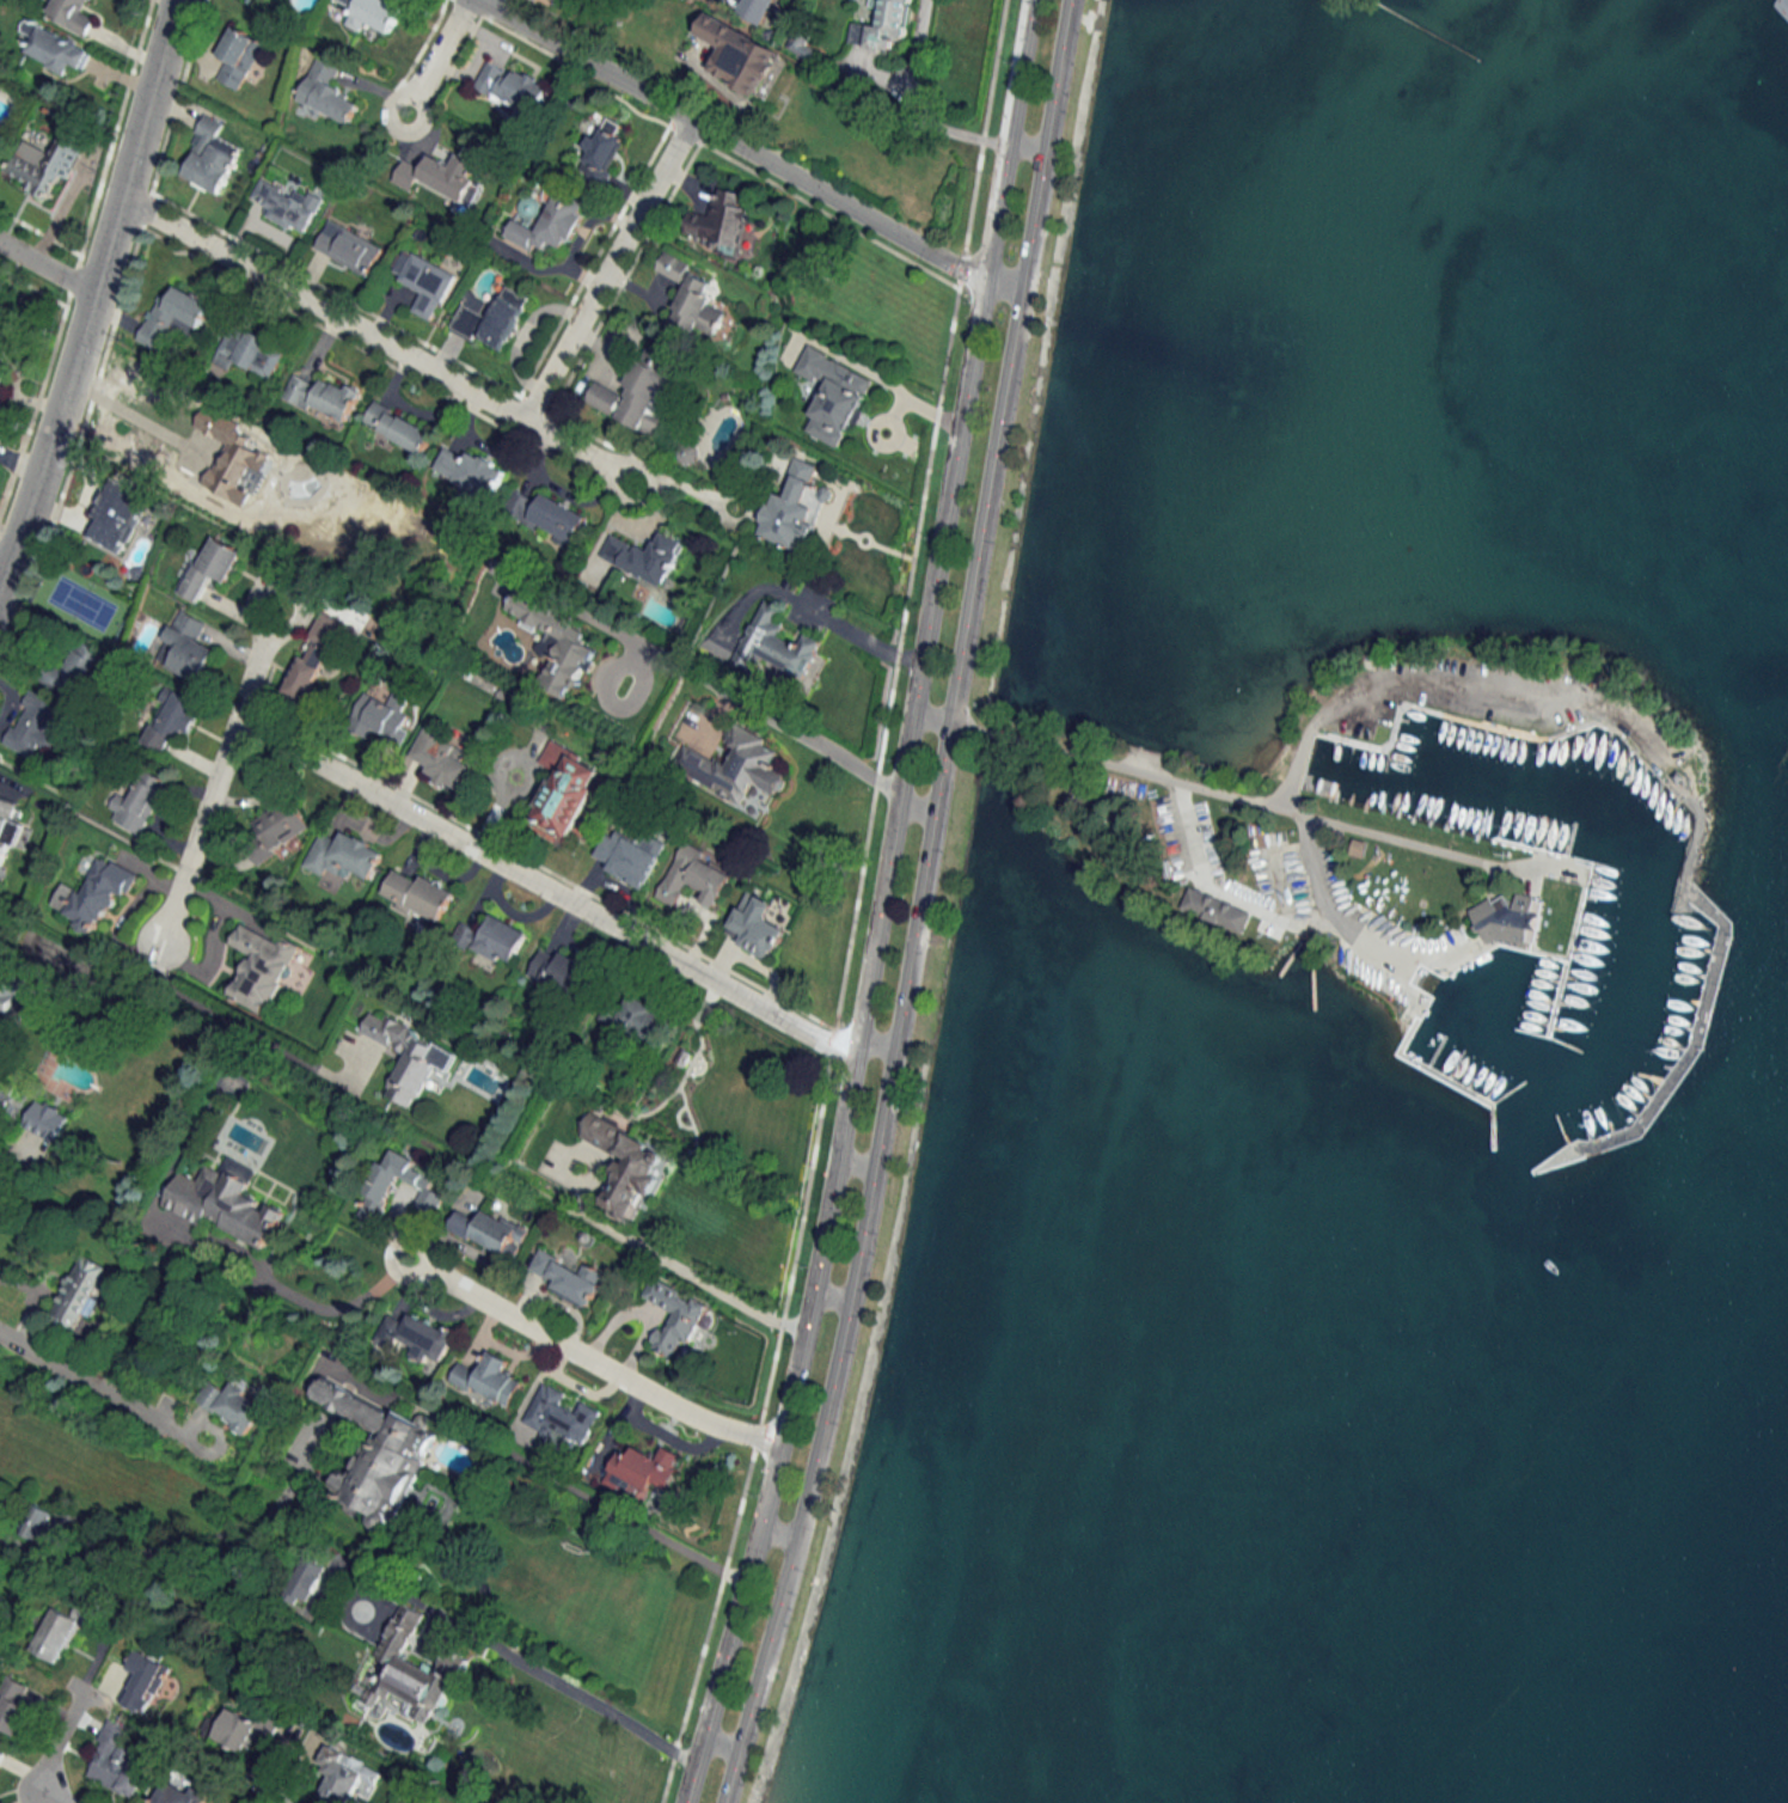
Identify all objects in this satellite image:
building: (558, 0)
park: (1337, 0)
building: (752, 10)
building: (373, 13)
building: (72, 14)
building: (883, 25)
building: (55, 48)
building: (737, 54)
building: (239, 56)
road: (439, 57)
building: (512, 86)
building: (326, 91)
road: (914, 103)
road: (1028, 141)
road: (1046, 141)
building: (602, 147)
road: (746, 151)
building: (209, 159)
building: (43, 165)
building: (439, 175)
building: (288, 206)
building: (718, 221)
building: (550, 224)
building: (348, 247)
road: (47, 268)
road: (606, 270)
building: (423, 281)
road: (92, 295)
building: (692, 298)
building: (173, 317)
building: (492, 319)
building: (7, 343)
road: (387, 346)
building: (249, 352)
road: (969, 354)
building: (638, 395)
building: (833, 395)
building: (324, 396)
road: (131, 401)
building: (397, 427)
building: (250, 441)
building: (469, 470)
building: (790, 509)
building: (382, 511)
building: (550, 515)
building: (117, 519)
building: (643, 557)
road: (5, 563)
building: (210, 567)
road: (852, 632)
building: (556, 642)
building: (771, 644)
building: (188, 646)
building: (314, 655)
building: (73, 668)
road: (1451, 677)
road: (718, 687)
parking lot: (1494, 698)
road: (930, 716)
building: (380, 717)
building: (172, 719)
building: (39, 725)
road: (970, 729)
building: (442, 758)
road: (220, 765)
building: (734, 765)
building: (564, 788)
road: (1243, 799)
building: (137, 802)
road: (914, 807)
building: (280, 824)
building: (7, 831)
building: (1357, 847)
building: (343, 855)
building: (627, 856)
building: (692, 876)
road: (1205, 881)
road: (543, 888)
building: (94, 893)
building: (418, 894)
building: (1217, 910)
road: (1329, 913)
building: (1504, 918)
building: (754, 925)
building: (494, 939)
building: (261, 967)
building: (556, 970)
building: (7, 995)
pier: (1553, 997)
building: (633, 1016)
road: (232, 1021)
road: (900, 1021)
road: (874, 1050)
building: (409, 1057)
building: (710, 1086)
pier: (1464, 1088)
building: (44, 1132)
road: (856, 1163)
building: (624, 1166)
building: (379, 1187)
building: (225, 1202)
building: (490, 1230)
road: (816, 1260)
road: (673, 1264)
building: (567, 1277)
building: (78, 1292)
road: (831, 1296)
road: (342, 1312)
building: (678, 1318)
building: (415, 1336)
road: (590, 1359)
building: (489, 1379)
road: (103, 1382)
building: (233, 1405)
building: (562, 1416)
building: (376, 1453)
building: (642, 1471)
road: (555, 1479)
building: (37, 1521)
road: (778, 1532)
road: (161, 1551)
building: (305, 1578)
building: (55, 1634)
building: (411, 1671)
building: (145, 1680)
road: (569, 1691)
building: (14, 1704)
building: (245, 1726)
road: (60, 1740)
road: (721, 1743)
building: (120, 1768)
building: (345, 1776)
road: (731, 1777)
road: (50, 1793)
building: (182, 1795)
road: (263, 1798)
building: (420, 1801)

